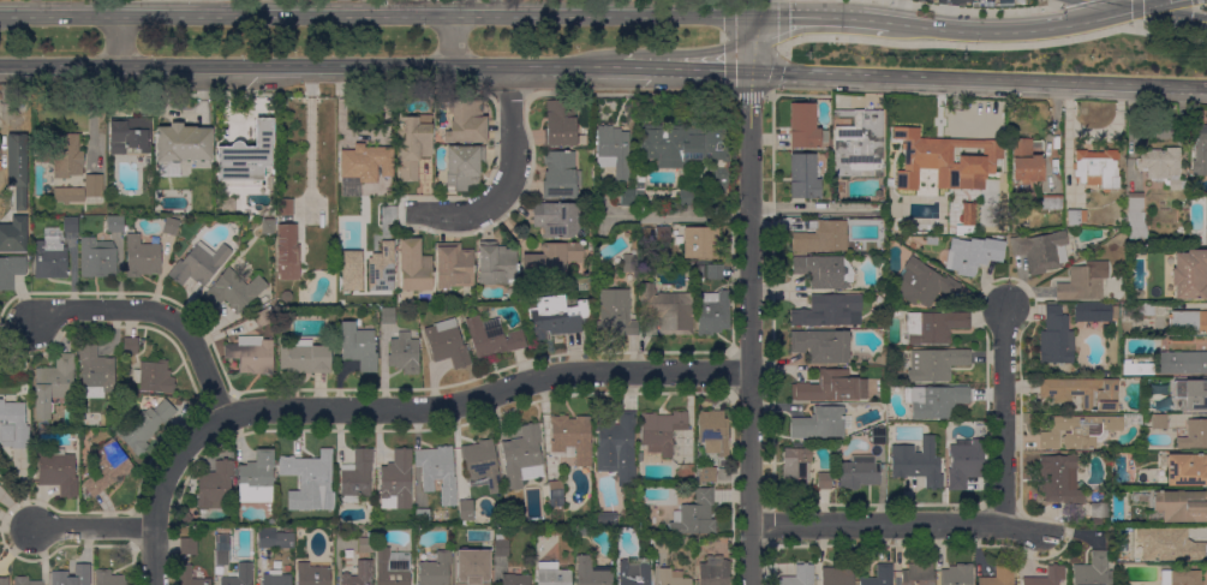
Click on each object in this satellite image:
road: (1066, 1)
road: (1154, 4)
road: (32, 7)
road: (213, 7)
traffic signals: (1136, 7)
road: (758, 8)
road: (970, 10)
road: (1136, 10)
road: (898, 11)
road: (946, 13)
road: (378, 16)
traffic signals: (758, 17)
road: (827, 17)
road: (1017, 30)
road: (1167, 35)
road: (118, 41)
road: (452, 41)
road: (754, 43)
road: (960, 44)
road: (310, 66)
road: (634, 68)
road: (699, 68)
traffic signals: (751, 70)
road: (943, 77)
road: (1171, 84)
road: (749, 94)
building: (466, 121)
building: (279, 123)
road: (510, 124)
building: (560, 124)
building: (805, 127)
building: (131, 136)
building: (859, 143)
building: (413, 144)
building: (181, 147)
building: (686, 148)
building: (613, 150)
building: (1200, 151)
building: (67, 156)
building: (246, 157)
building: (1026, 160)
building: (944, 161)
building: (366, 162)
building: (0, 166)
building: (464, 166)
building: (1161, 166)
building: (17, 168)
building: (1097, 168)
building: (558, 175)
building: (802, 175)
building: (94, 185)
building: (639, 187)
building: (836, 187)
building: (68, 195)
building: (628, 197)
building: (686, 197)
building: (1051, 202)
building: (228, 204)
building: (286, 207)
road: (809, 209)
building: (268, 213)
road: (467, 213)
road: (675, 214)
building: (1075, 216)
building: (1135, 216)
building: (556, 219)
building: (967, 219)
building: (1206, 220)
building: (70, 225)
building: (114, 225)
building: (169, 226)
building: (268, 226)
building: (125, 228)
building: (13, 234)
building: (662, 234)
building: (823, 238)
building: (700, 241)
building: (1040, 250)
building: (287, 252)
building: (973, 253)
building: (50, 257)
building: (97, 257)
building: (141, 257)
building: (629, 258)
building: (551, 259)
building: (496, 263)
building: (199, 264)
building: (414, 265)
building: (453, 265)
building: (380, 267)
building: (349, 269)
building: (11, 270)
building: (825, 270)
building: (715, 271)
building: (1189, 274)
building: (1083, 281)
building: (922, 283)
building: (234, 289)
building: (286, 296)
building: (263, 299)
building: (668, 310)
building: (1139, 310)
road: (155, 311)
building: (712, 311)
building: (829, 311)
building: (615, 312)
building: (1093, 312)
building: (388, 315)
building: (556, 316)
building: (263, 317)
building: (1188, 321)
building: (934, 326)
road: (749, 327)
building: (492, 338)
building: (1056, 338)
building: (447, 344)
building: (131, 345)
building: (359, 346)
building: (821, 346)
building: (404, 353)
building: (255, 354)
building: (304, 357)
building: (1182, 363)
building: (934, 364)
building: (1135, 369)
building: (95, 370)
building: (154, 377)
building: (53, 384)
building: (831, 387)
building: (1157, 387)
building: (1082, 392)
road: (486, 395)
building: (1191, 396)
building: (936, 401)
road: (1004, 417)
building: (1146, 418)
building: (1159, 422)
building: (14, 423)
building: (820, 423)
building: (144, 426)
building: (661, 431)
building: (713, 431)
building: (1078, 431)
building: (1194, 435)
building: (878, 436)
building: (572, 438)
building: (616, 444)
building: (522, 456)
building: (640, 456)
building: (918, 462)
building: (964, 462)
building: (482, 464)
building: (435, 466)
building: (795, 466)
building: (107, 468)
building: (1187, 470)
building: (58, 471)
building: (859, 472)
building: (707, 474)
building: (357, 476)
building: (312, 477)
building: (257, 478)
building: (1059, 479)
building: (396, 480)
building: (824, 480)
building: (215, 485)
road: (161, 488)
building: (556, 494)
building: (1181, 506)
building: (1099, 509)
building: (466, 512)
building: (695, 515)
building: (186, 517)
building: (423, 517)
building: (607, 519)
road: (91, 526)
road: (900, 526)
building: (483, 535)
building: (274, 538)
building: (364, 544)
building: (1169, 544)
building: (501, 545)
building: (661, 545)
building: (189, 547)
building: (222, 549)
building: (392, 566)
building: (186, 569)
building: (435, 571)
building: (470, 571)
building: (634, 571)
building: (713, 571)
building: (1093, 571)
building: (592, 572)
building: (313, 573)
building: (73, 574)
building: (359, 574)
building: (552, 574)
building: (838, 574)
building: (918, 574)
building: (957, 574)
building: (240, 575)
building: (800, 575)
building: (879, 575)
building: (999, 577)
building: (1048, 577)
building: (108, 578)
building: (673, 578)
building: (1181, 578)
building: (276, 579)
building: (515, 579)
building: (4, 580)
building: (25, 581)
building: (1121, 584)

